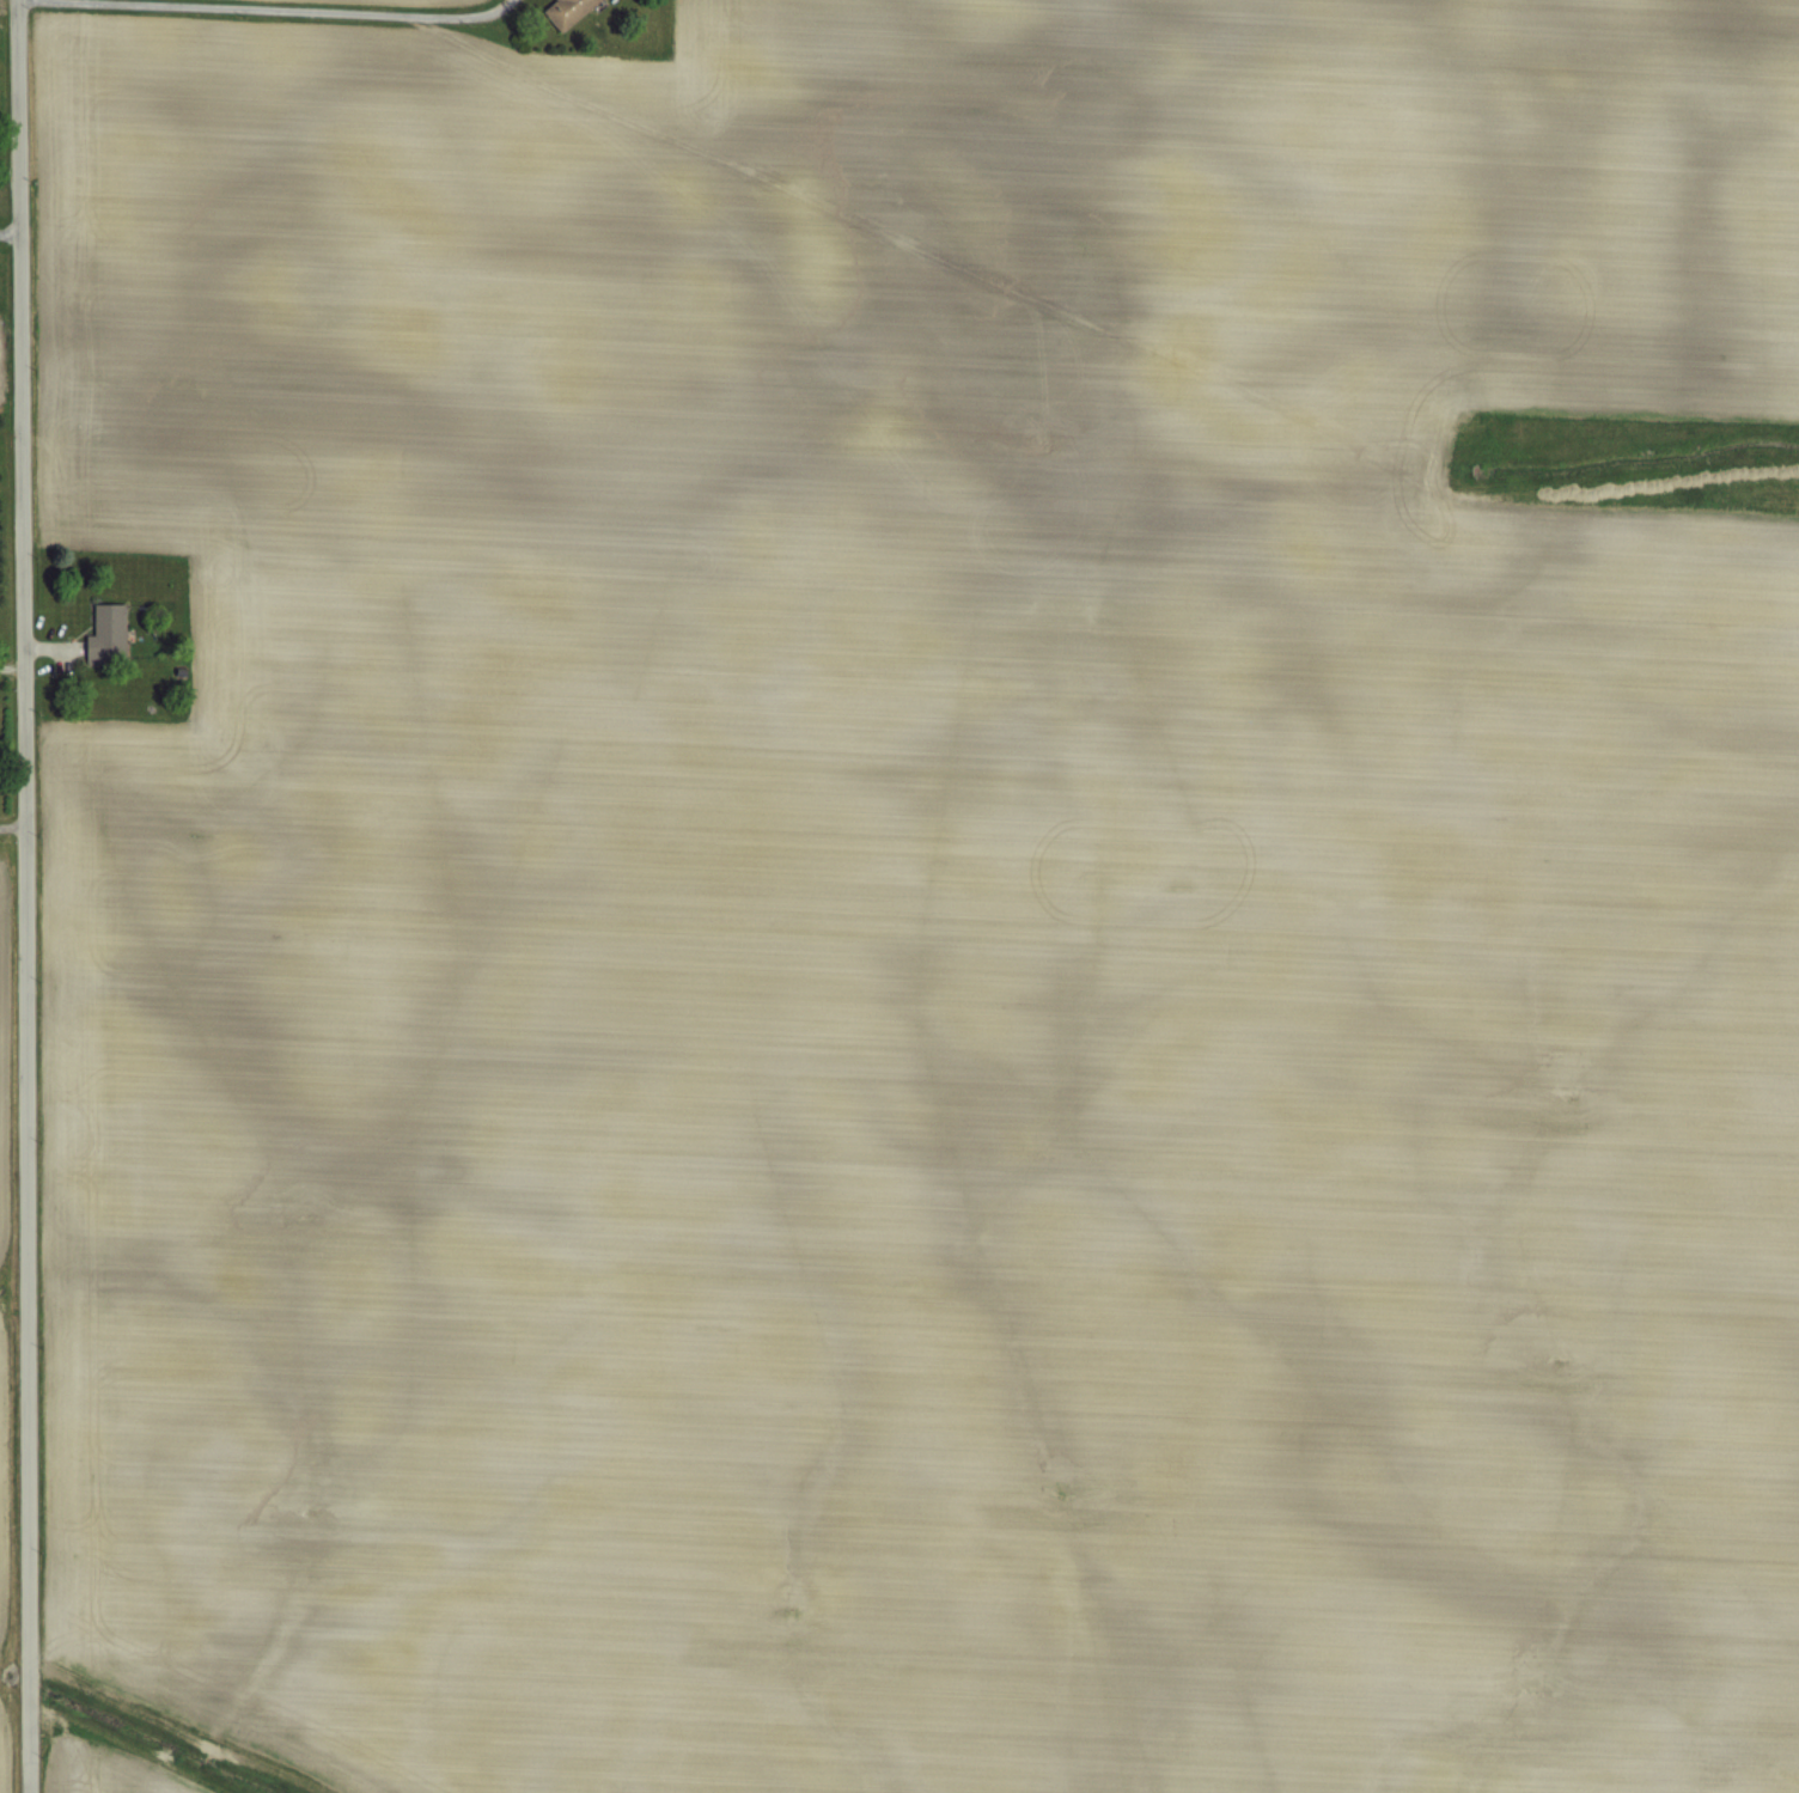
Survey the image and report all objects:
road: (304, 10)
building: (563, 10)
road: (10, 232)
building: (106, 632)
road: (12, 823)
road: (24, 896)

